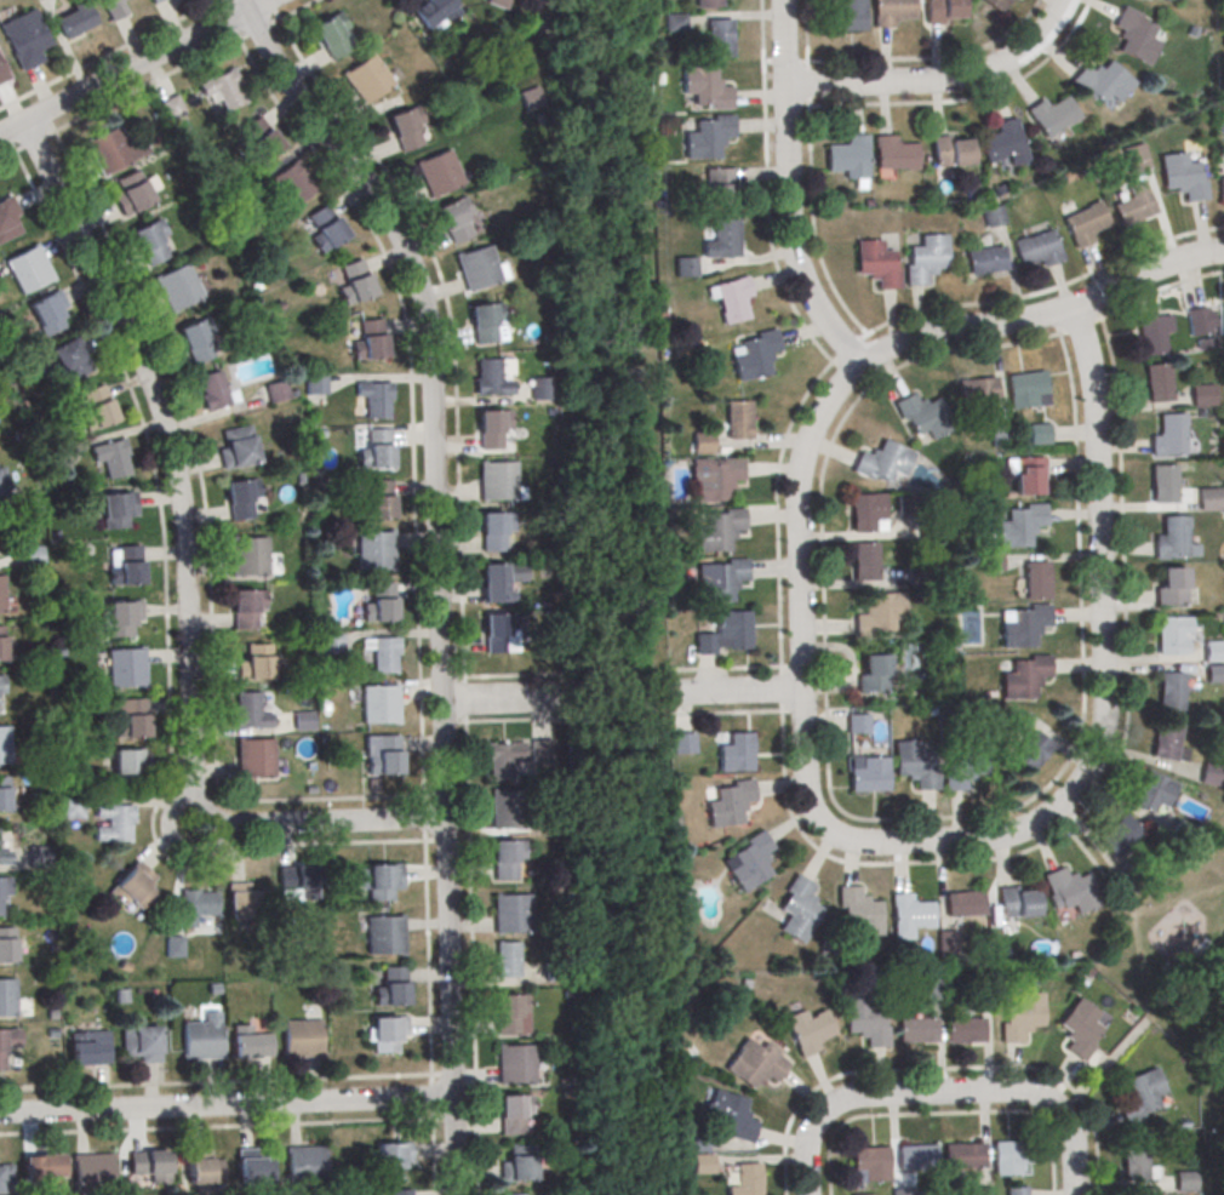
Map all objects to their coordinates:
building: (1143, 0)
building: (1161, 0)
building: (159, 2)
building: (498, 2)
road: (222, 5)
road: (263, 5)
building: (710, 5)
road: (271, 6)
building: (116, 7)
building: (943, 10)
road: (296, 12)
building: (433, 12)
building: (892, 13)
building: (847, 18)
building: (76, 22)
road: (229, 22)
building: (675, 24)
road: (259, 33)
building: (332, 34)
building: (24, 38)
building: (1136, 39)
building: (720, 40)
road: (110, 55)
road: (932, 58)
building: (2, 73)
road: (126, 73)
building: (367, 78)
road: (937, 80)
building: (1102, 85)
road: (147, 88)
building: (218, 90)
building: (707, 90)
road: (970, 98)
building: (173, 105)
road: (46, 119)
building: (1052, 119)
building: (407, 128)
road: (7, 139)
building: (709, 139)
building: (267, 142)
road: (33, 143)
building: (1005, 145)
building: (111, 149)
road: (11, 155)
building: (893, 156)
building: (1134, 156)
building: (949, 158)
building: (848, 161)
building: (439, 172)
building: (1183, 176)
building: (296, 181)
building: (1222, 187)
building: (720, 189)
road: (767, 189)
building: (132, 193)
road: (785, 193)
building: (1133, 204)
building: (994, 216)
building: (456, 218)
building: (7, 221)
building: (1085, 222)
building: (325, 225)
building: (149, 242)
building: (723, 242)
building: (1037, 246)
building: (925, 258)
building: (985, 258)
building: (875, 262)
building: (480, 267)
building: (28, 268)
building: (687, 269)
building: (354, 280)
building: (176, 286)
building: (734, 303)
building: (48, 311)
road: (1042, 314)
building: (1200, 319)
building: (487, 321)
road: (877, 327)
building: (1155, 332)
building: (370, 339)
building: (195, 342)
road: (847, 347)
building: (754, 353)
building: (67, 356)
building: (493, 376)
building: (1159, 382)
building: (542, 388)
building: (1028, 388)
building: (316, 389)
building: (215, 390)
building: (978, 390)
building: (1201, 395)
building: (377, 399)
building: (923, 414)
building: (738, 418)
building: (492, 431)
building: (1039, 433)
building: (999, 435)
building: (1167, 435)
building: (702, 442)
building: (236, 446)
building: (374, 448)
building: (111, 457)
building: (882, 461)
building: (58, 462)
building: (1026, 474)
building: (716, 478)
building: (496, 479)
building: (2, 481)
building: (1165, 482)
building: (240, 498)
building: (1207, 498)
building: (377, 499)
building: (116, 508)
building: (865, 511)
building: (1020, 525)
building: (493, 528)
building: (719, 528)
road: (774, 528)
road: (819, 537)
building: (1173, 538)
building: (374, 549)
building: (33, 553)
building: (248, 556)
road: (210, 558)
building: (864, 560)
building: (126, 564)
road: (435, 572)
road: (185, 574)
road: (461, 578)
building: (498, 578)
building: (1037, 578)
building: (720, 579)
building: (1171, 585)
road: (418, 589)
building: (1, 594)
building: (381, 604)
building: (247, 607)
building: (880, 612)
building: (121, 616)
road: (1099, 621)
building: (1024, 627)
building: (497, 631)
building: (725, 633)
building: (1173, 634)
road: (167, 635)
building: (2, 642)
building: (332, 642)
building: (1212, 650)
road: (800, 652)
building: (384, 654)
building: (254, 662)
building: (125, 668)
road: (734, 668)
building: (873, 673)
building: (1213, 673)
building: (1024, 676)
road: (504, 679)
building: (1, 682)
building: (1171, 690)
road: (734, 692)
road: (590, 694)
road: (505, 699)
building: (379, 704)
building: (248, 711)
road: (736, 713)
building: (131, 716)
building: (1017, 720)
road: (1125, 720)
road: (503, 722)
building: (858, 722)
building: (1167, 741)
building: (684, 742)
building: (4, 745)
building: (1031, 750)
building: (736, 753)
building: (384, 756)
building: (254, 757)
building: (502, 759)
building: (125, 765)
building: (915, 765)
building: (963, 765)
building: (868, 773)
building: (1212, 773)
building: (1152, 790)
building: (2, 795)
building: (730, 804)
building: (72, 807)
building: (507, 808)
building: (113, 819)
building: (1120, 834)
building: (4, 857)
building: (504, 858)
building: (750, 860)
building: (379, 879)
building: (297, 881)
building: (133, 886)
building: (5, 887)
building: (1070, 890)
road: (1121, 899)
building: (245, 902)
building: (1017, 902)
building: (194, 904)
building: (965, 904)
building: (799, 909)
building: (510, 913)
building: (858, 913)
building: (909, 915)
building: (384, 934)
road: (650, 937)
building: (946, 940)
building: (6, 945)
building: (173, 945)
building: (507, 960)
park: (1174, 974)
building: (391, 988)
building: (931, 988)
building: (6, 997)
building: (511, 1012)
building: (1022, 1017)
building: (865, 1020)
road: (1138, 1025)
building: (808, 1029)
building: (916, 1029)
building: (1079, 1029)
building: (965, 1030)
building: (387, 1031)
building: (302, 1039)
building: (201, 1040)
building: (7, 1042)
building: (139, 1042)
building: (250, 1042)
building: (87, 1048)
building: (755, 1063)
building: (515, 1064)
road: (940, 1070)
road: (215, 1082)
building: (1138, 1094)
road: (1042, 1098)
road: (834, 1103)
road: (225, 1104)
building: (513, 1113)
road: (942, 1114)
building: (731, 1116)
road: (216, 1127)
building: (696, 1143)
building: (962, 1155)
building: (915, 1156)
building: (1009, 1156)
building: (391, 1157)
building: (148, 1161)
building: (1132, 1161)
building: (869, 1163)
building: (41, 1165)
building: (702, 1165)
building: (92, 1166)
building: (253, 1166)
building: (305, 1166)
building: (517, 1166)
building: (202, 1167)
building: (6, 1174)
building: (748, 1179)
building: (1183, 1182)
building: (401, 1191)
building: (1016, 1191)
building: (902, 1193)
building: (980, 1193)
building: (513, 1194)
building: (862, 1194)

